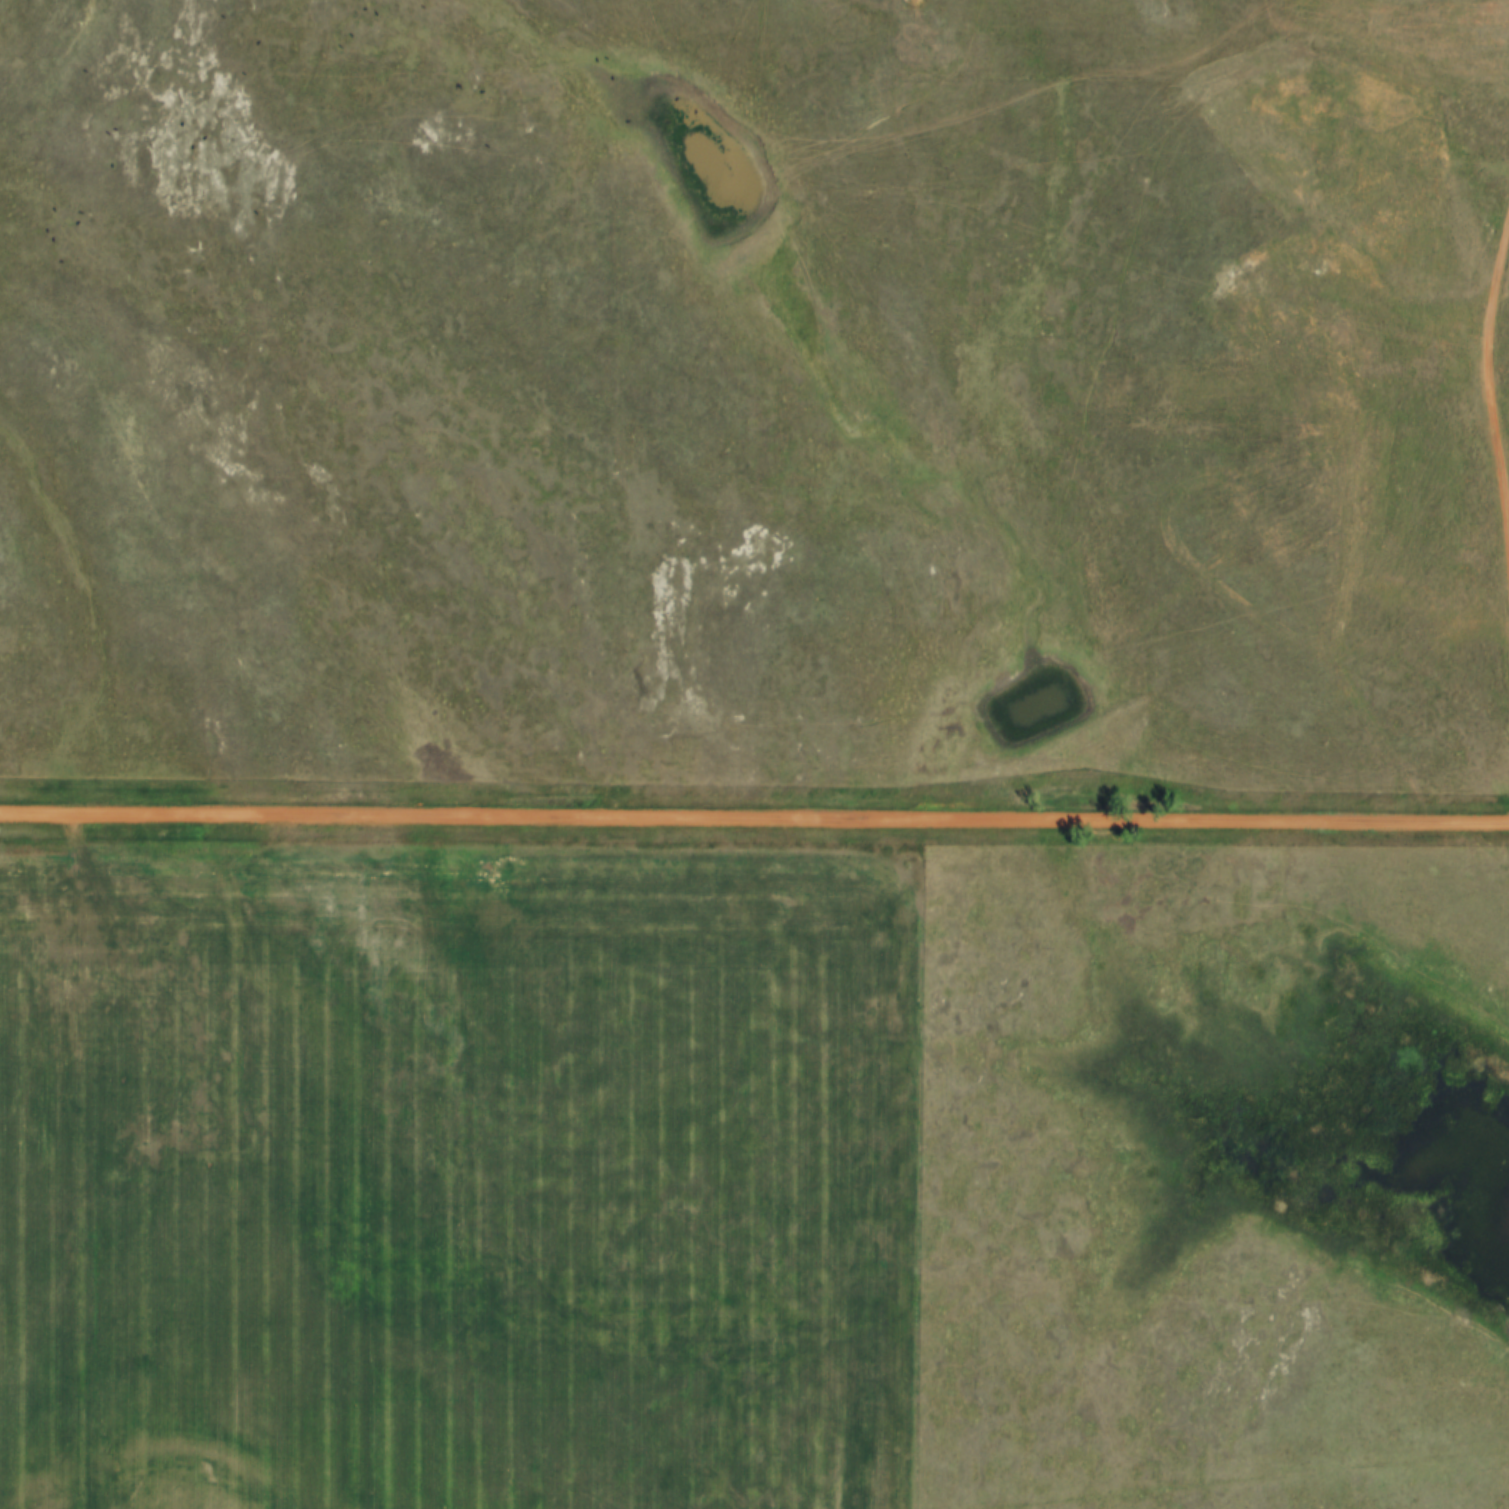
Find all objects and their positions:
road: (754, 820)

